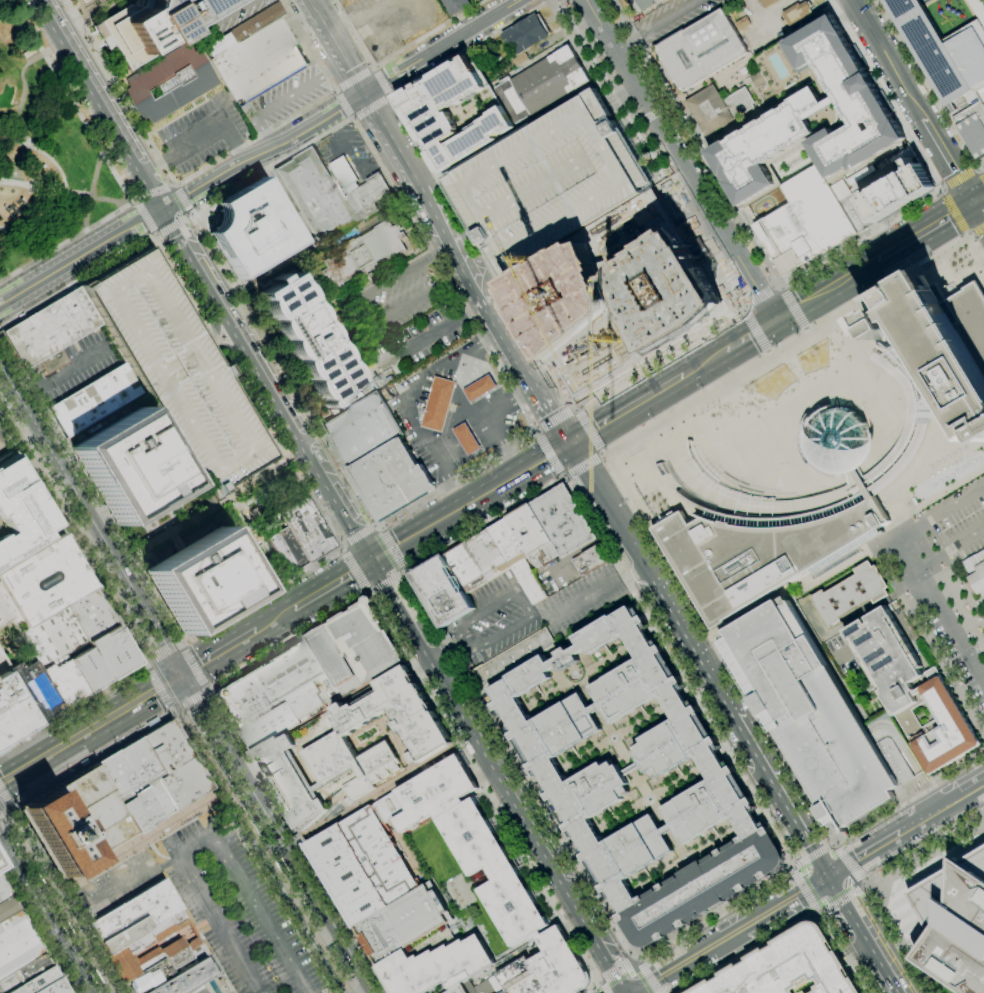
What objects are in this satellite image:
building: (76, 0)
building: (79, 1)
building: (643, 3)
building: (766, 3)
road: (511, 4)
building: (456, 6)
road: (420, 8)
road: (772, 10)
building: (797, 13)
road: (360, 15)
road: (227, 17)
building: (742, 23)
building: (154, 25)
road: (655, 26)
building: (245, 28)
road: (462, 33)
building: (525, 34)
road: (337, 45)
road: (470, 47)
building: (702, 50)
road: (394, 53)
building: (520, 59)
building: (258, 62)
building: (950, 63)
road: (333, 64)
road: (372, 68)
road: (392, 74)
road: (353, 79)
building: (759, 79)
building: (170, 82)
road: (379, 82)
road: (927, 83)
building: (541, 85)
road: (334, 90)
road: (24, 91)
traffic signals: (365, 92)
road: (111, 93)
road: (388, 95)
road: (882, 95)
road: (281, 97)
road: (73, 100)
road: (913, 100)
building: (772, 102)
road: (343, 103)
road: (96, 104)
road: (369, 105)
building: (717, 108)
building: (453, 111)
building: (798, 111)
road: (351, 117)
road: (204, 128)
road: (25, 130)
road: (685, 134)
road: (266, 138)
road: (392, 139)
road: (696, 141)
road: (669, 142)
road: (653, 150)
road: (241, 151)
road: (263, 152)
park: (42, 154)
road: (678, 160)
road: (354, 162)
road: (151, 163)
road: (980, 163)
road: (207, 165)
road: (976, 168)
building: (343, 172)
road: (980, 176)
road: (959, 180)
building: (550, 184)
parking lot: (550, 184)
road: (173, 185)
road: (176, 185)
road: (66, 188)
road: (92, 190)
road: (941, 190)
road: (66, 191)
road: (152, 191)
building: (897, 192)
traffic signals: (188, 194)
building: (315, 194)
road: (133, 197)
building: (366, 197)
road: (174, 198)
road: (978, 198)
road: (183, 200)
road: (429, 201)
road: (134, 202)
traffic signals: (973, 202)
building: (856, 211)
road: (978, 211)
road: (953, 212)
road: (191, 214)
road: (186, 216)
road: (146, 218)
road: (179, 221)
building: (805, 221)
traffic signals: (188, 222)
building: (359, 224)
traffic signals: (133, 225)
road: (165, 228)
road: (171, 229)
building: (252, 229)
road: (976, 229)
road: (924, 230)
road: (968, 234)
road: (156, 235)
traffic signals: (175, 236)
road: (859, 237)
road: (67, 241)
road: (453, 242)
road: (440, 249)
road: (976, 249)
building: (364, 252)
road: (79, 257)
road: (175, 269)
road: (456, 275)
road: (478, 284)
road: (775, 286)
road: (780, 287)
road: (825, 290)
building: (669, 291)
road: (760, 294)
building: (563, 298)
parking lot: (395, 299)
road: (743, 302)
road: (793, 307)
road: (475, 308)
road: (740, 308)
road: (358, 315)
traffic signals: (776, 320)
road: (504, 329)
road: (755, 329)
road: (806, 330)
building: (49, 331)
road: (494, 334)
road: (857, 334)
road: (750, 335)
building: (309, 340)
road: (420, 341)
road: (786, 345)
building: (939, 346)
road: (768, 352)
fountain: (812, 357)
road: (655, 361)
road: (704, 362)
road: (888, 364)
road: (275, 369)
building: (178, 372)
parking lot: (178, 372)
road: (61, 375)
railway: (682, 376)
railway: (682, 378)
fountain: (770, 382)
building: (479, 388)
road: (528, 391)
road: (409, 396)
building: (348, 399)
building: (94, 400)
road: (546, 400)
building: (437, 404)
road: (275, 405)
flagpole: (719, 405)
road: (449, 406)
road: (453, 407)
road: (627, 408)
flagpole: (713, 408)
road: (575, 409)
building: (333, 411)
flagpole: (708, 411)
road: (469, 412)
road: (805, 414)
flagpole: (702, 415)
road: (485, 416)
building: (912, 418)
road: (555, 421)
building: (923, 421)
road: (444, 424)
road: (532, 427)
building: (363, 428)
road: (589, 430)
road: (534, 431)
building: (84, 433)
building: (466, 438)
road: (424, 440)
building: (2, 441)
road: (17, 441)
building: (839, 441)
traffic signals: (572, 442)
road: (905, 442)
road: (549, 453)
road: (602, 453)
road: (33, 457)
road: (512, 462)
road: (581, 464)
building: (129, 466)
road: (564, 477)
building: (390, 478)
building: (692, 480)
road: (860, 481)
road: (856, 483)
road: (90, 488)
road: (886, 491)
road: (942, 491)
road: (73, 493)
road: (456, 494)
road: (469, 502)
road: (314, 503)
road: (209, 506)
road: (757, 507)
building: (19, 511)
road: (51, 512)
road: (920, 512)
road: (939, 513)
park: (159, 520)
building: (563, 520)
parking lot: (959, 521)
road: (79, 522)
road: (377, 524)
building: (306, 529)
road: (899, 529)
building: (533, 534)
road: (357, 535)
road: (73, 542)
traffic signals: (397, 544)
road: (948, 544)
road: (341, 545)
building: (292, 547)
road: (381, 548)
road: (391, 548)
building: (763, 549)
road: (340, 550)
building: (282, 553)
building: (493, 560)
building: (590, 560)
road: (354, 570)
road: (404, 571)
building: (976, 571)
traffic signals: (346, 575)
road: (403, 575)
road: (397, 577)
road: (653, 579)
building: (43, 580)
traffic signals: (398, 580)
building: (201, 581)
road: (391, 581)
road: (329, 584)
road: (380, 584)
road: (626, 584)
road: (793, 586)
road: (380, 587)
road: (368, 591)
building: (442, 592)
road: (371, 593)
traffic signals: (386, 593)
building: (851, 594)
road: (260, 595)
road: (588, 596)
road: (525, 605)
road: (962, 607)
building: (8, 610)
road: (940, 610)
building: (90, 614)
road: (274, 619)
building: (54, 638)
road: (289, 641)
building: (366, 641)
road: (166, 643)
road: (178, 644)
road: (182, 645)
building: (114, 652)
road: (220, 652)
road: (441, 652)
road: (162, 653)
building: (330, 655)
building: (512, 658)
building: (3, 663)
road: (942, 663)
road: (193, 667)
building: (893, 667)
road: (414, 669)
building: (89, 670)
railway: (189, 670)
railway: (190, 670)
building: (287, 672)
traffic signals: (184, 675)
building: (351, 681)
building: (64, 683)
road: (158, 687)
road: (208, 688)
building: (34, 691)
road: (207, 692)
flagpole: (218, 692)
railway: (175, 696)
building: (314, 697)
building: (241, 699)
flagpole: (79, 700)
road: (191, 701)
flagpole: (72, 704)
building: (329, 704)
road: (74, 706)
building: (11, 711)
building: (312, 714)
building: (400, 715)
building: (817, 718)
parking lot: (817, 718)
parking lot: (415, 721)
road: (761, 723)
road: (200, 724)
building: (267, 727)
road: (91, 729)
building: (944, 729)
road: (725, 733)
building: (313, 740)
road: (900, 741)
building: (167, 746)
street lamp: (443, 755)
building: (334, 757)
road: (93, 758)
building: (381, 763)
road: (509, 765)
street lamp: (422, 766)
building: (128, 769)
building: (304, 775)
street lamp: (404, 777)
building: (599, 778)
building: (184, 783)
building: (289, 784)
road: (973, 786)
building: (80, 789)
building: (337, 789)
building: (358, 789)
road: (927, 790)
street lamp: (381, 791)
road: (379, 793)
building: (435, 793)
road: (5, 795)
road: (778, 797)
building: (159, 798)
road: (507, 799)
street lamp: (359, 804)
building: (146, 805)
building: (389, 808)
road: (4, 811)
building: (95, 814)
building: (134, 815)
road: (923, 816)
street lamp: (336, 818)
road: (11, 831)
street lamp: (313, 831)
road: (278, 833)
building: (54, 834)
building: (108, 837)
road: (206, 838)
road: (142, 841)
road: (298, 841)
road: (832, 843)
road: (915, 843)
railway: (23, 847)
road: (256, 849)
road: (568, 850)
road: (4, 851)
building: (380, 855)
road: (810, 855)
road: (854, 858)
road: (168, 861)
road: (811, 863)
road: (846, 863)
road: (789, 866)
road: (531, 868)
building: (494, 872)
building: (346, 875)
traffic signals: (824, 876)
road: (870, 881)
road: (864, 883)
road: (803, 890)
building: (3, 891)
road: (795, 893)
railway: (56, 895)
road: (841, 897)
road: (892, 897)
road: (66, 898)
railway: (307, 903)
building: (7, 907)
parking lot: (236, 909)
building: (136, 910)
road: (820, 913)
building: (403, 923)
building: (955, 923)
road: (49, 925)
road: (790, 927)
road: (37, 930)
building: (124, 934)
road: (860, 934)
road: (759, 937)
road: (886, 940)
building: (16, 943)
building: (157, 949)
road: (330, 949)
road: (699, 952)
road: (636, 956)
road: (631, 961)
building: (435, 962)
building: (559, 963)
road: (638, 963)
building: (787, 966)
road: (622, 967)
road: (643, 970)
building: (24, 973)
road: (607, 976)
building: (148, 977)
building: (186, 977)
road: (620, 977)
road: (639, 977)
traffic signals: (659, 977)
building: (521, 978)
building: (39, 980)
road: (650, 981)
road: (595, 982)
building: (53, 987)
building: (479, 987)
building: (200, 988)
road: (600, 988)
road: (362, 989)
building: (459, 989)
building: (16, 990)
road: (596, 990)
road: (656, 991)
building: (505, 992)

